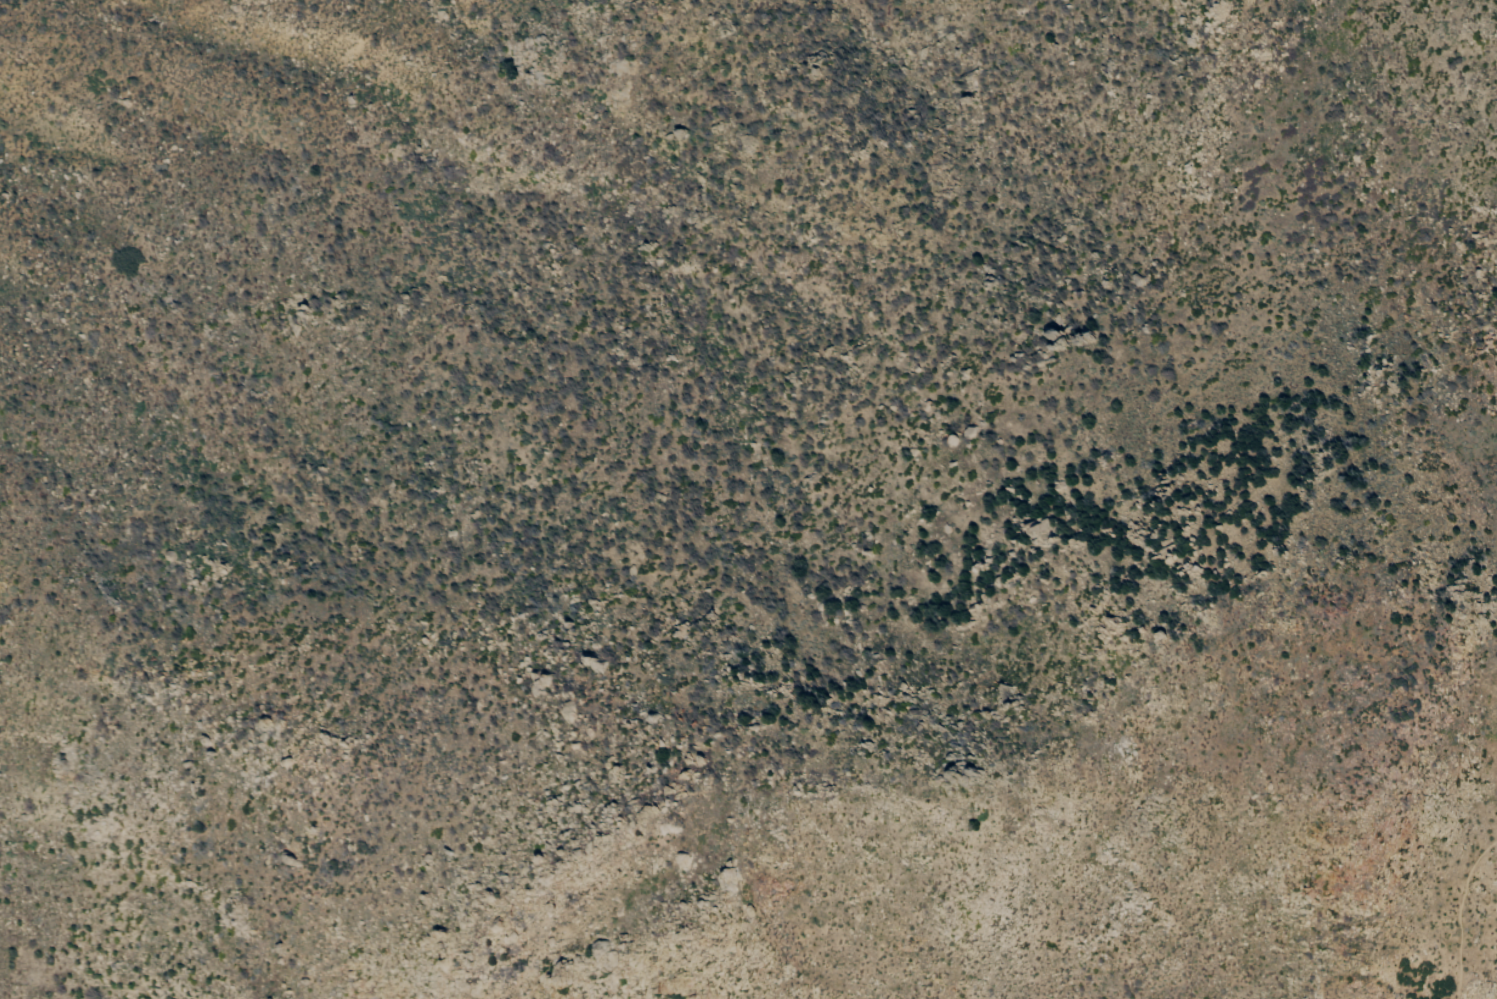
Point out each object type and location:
road: (1462, 918)

